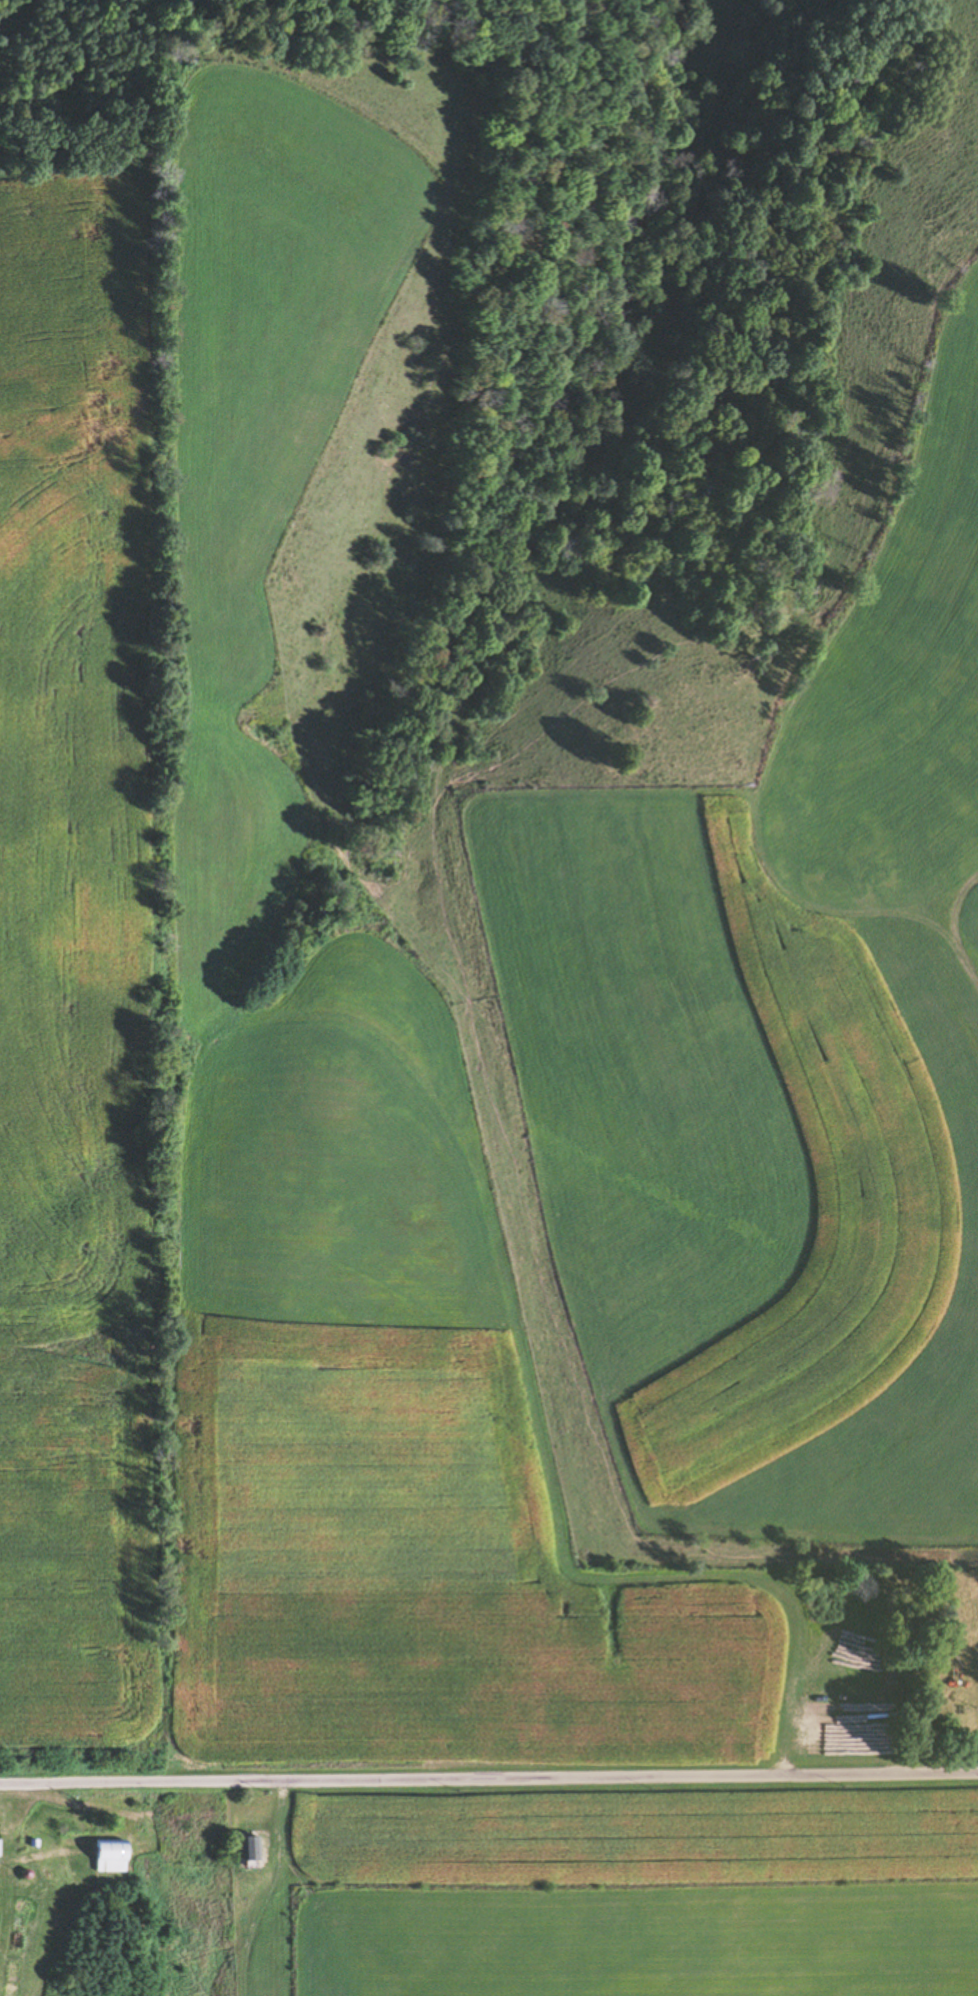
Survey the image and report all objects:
crop: (290, 458)
crop: (894, 681)
crop: (77, 733)
crop: (740, 1162)
crop: (368, 1276)
crop: (78, 1636)
crop: (469, 1675)
road: (489, 1778)
building: (247, 1848)
building: (107, 1856)
crop: (631, 1886)

